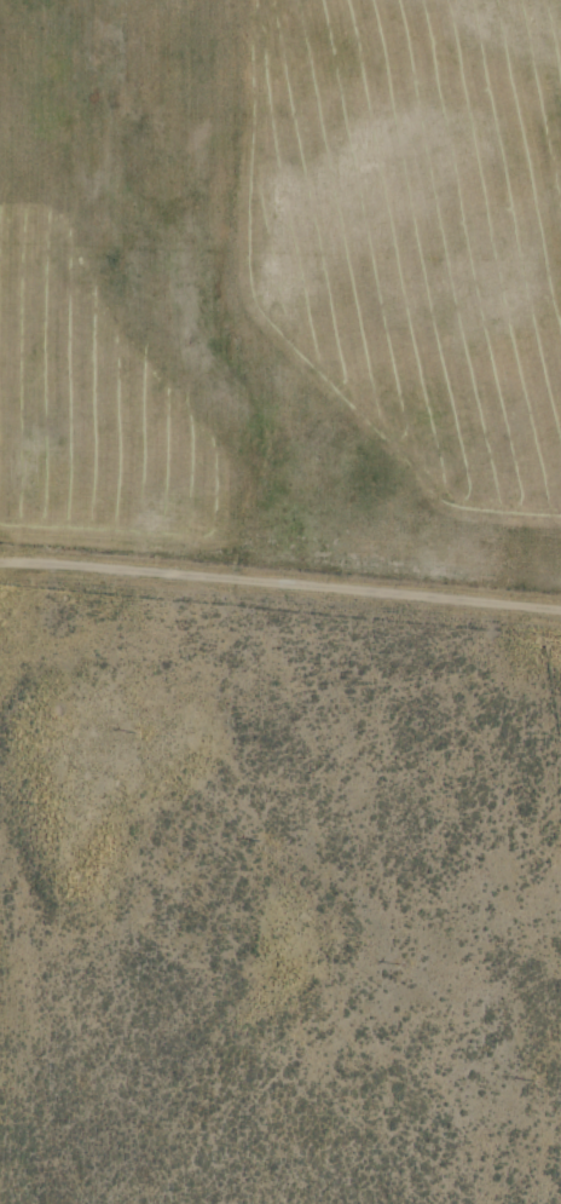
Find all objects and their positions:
crop: (285, 303)
road: (280, 588)

